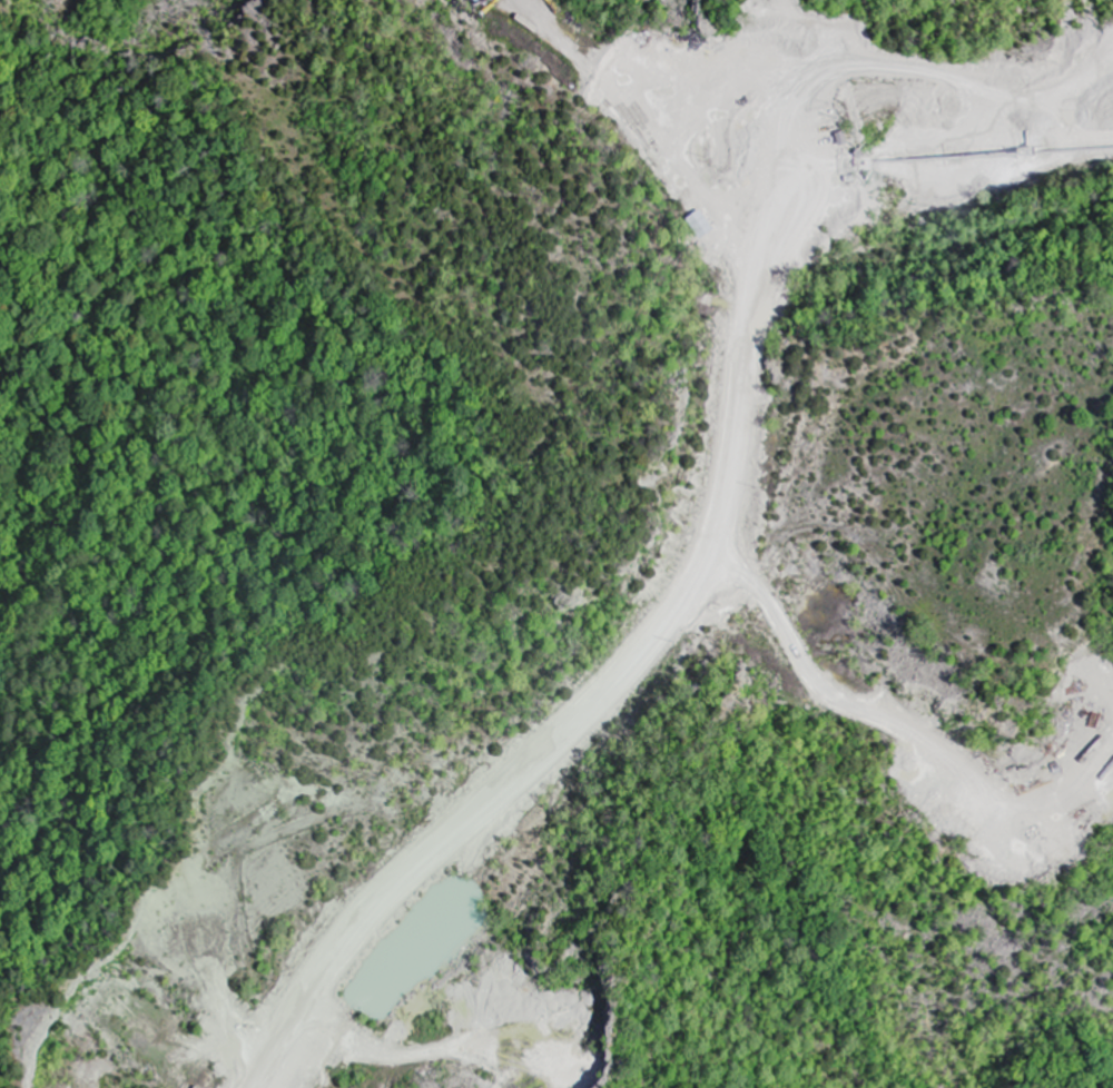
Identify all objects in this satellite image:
road: (713, 512)
road: (883, 721)

